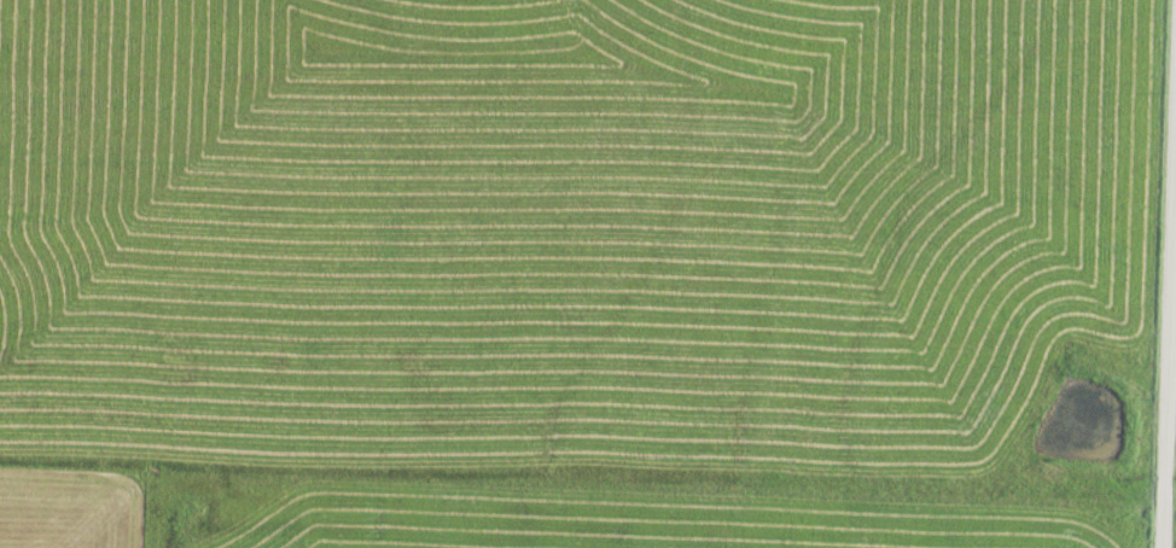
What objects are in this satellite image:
road: (1169, 363)

